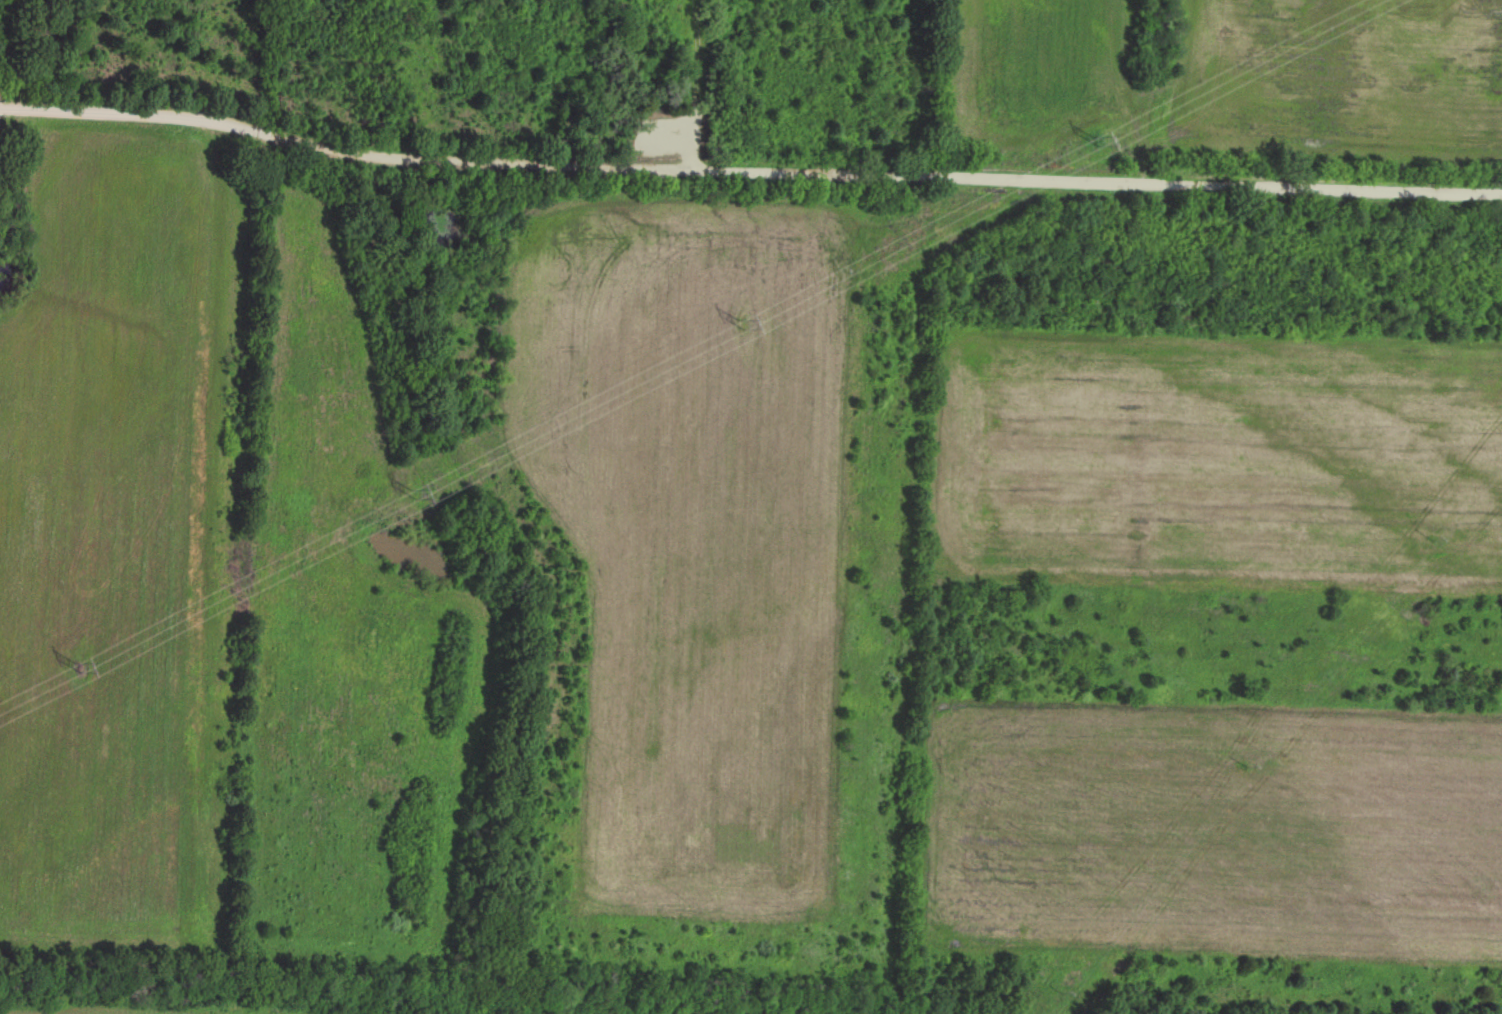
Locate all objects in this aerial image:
road: (1129, 89)
power tower: (1099, 150)
road: (748, 161)
power tower: (745, 331)
power tower: (415, 503)
power tower: (81, 675)

